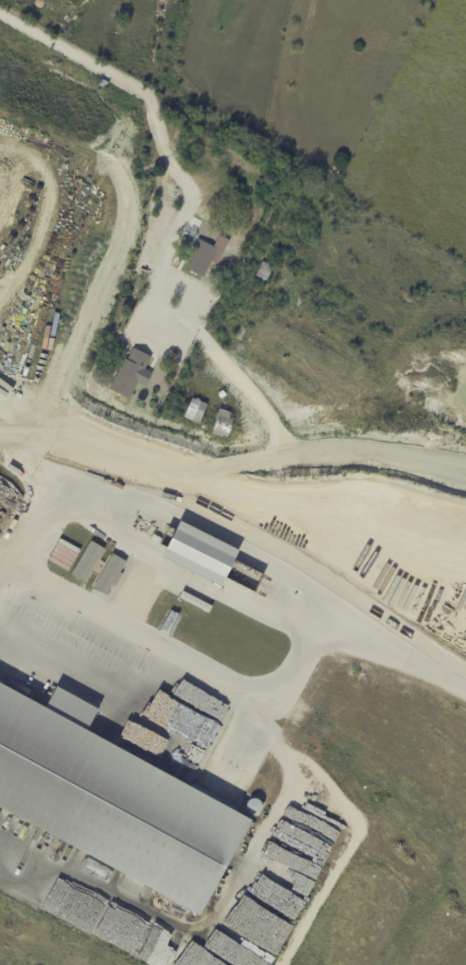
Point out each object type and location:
building: (103, 84)
road: (190, 206)
building: (215, 250)
building: (265, 274)
building: (133, 375)
building: (195, 410)
road: (232, 458)
road: (242, 535)
building: (204, 553)
building: (88, 560)
building: (111, 573)
road: (173, 646)
building: (246, 791)
building: (113, 801)

